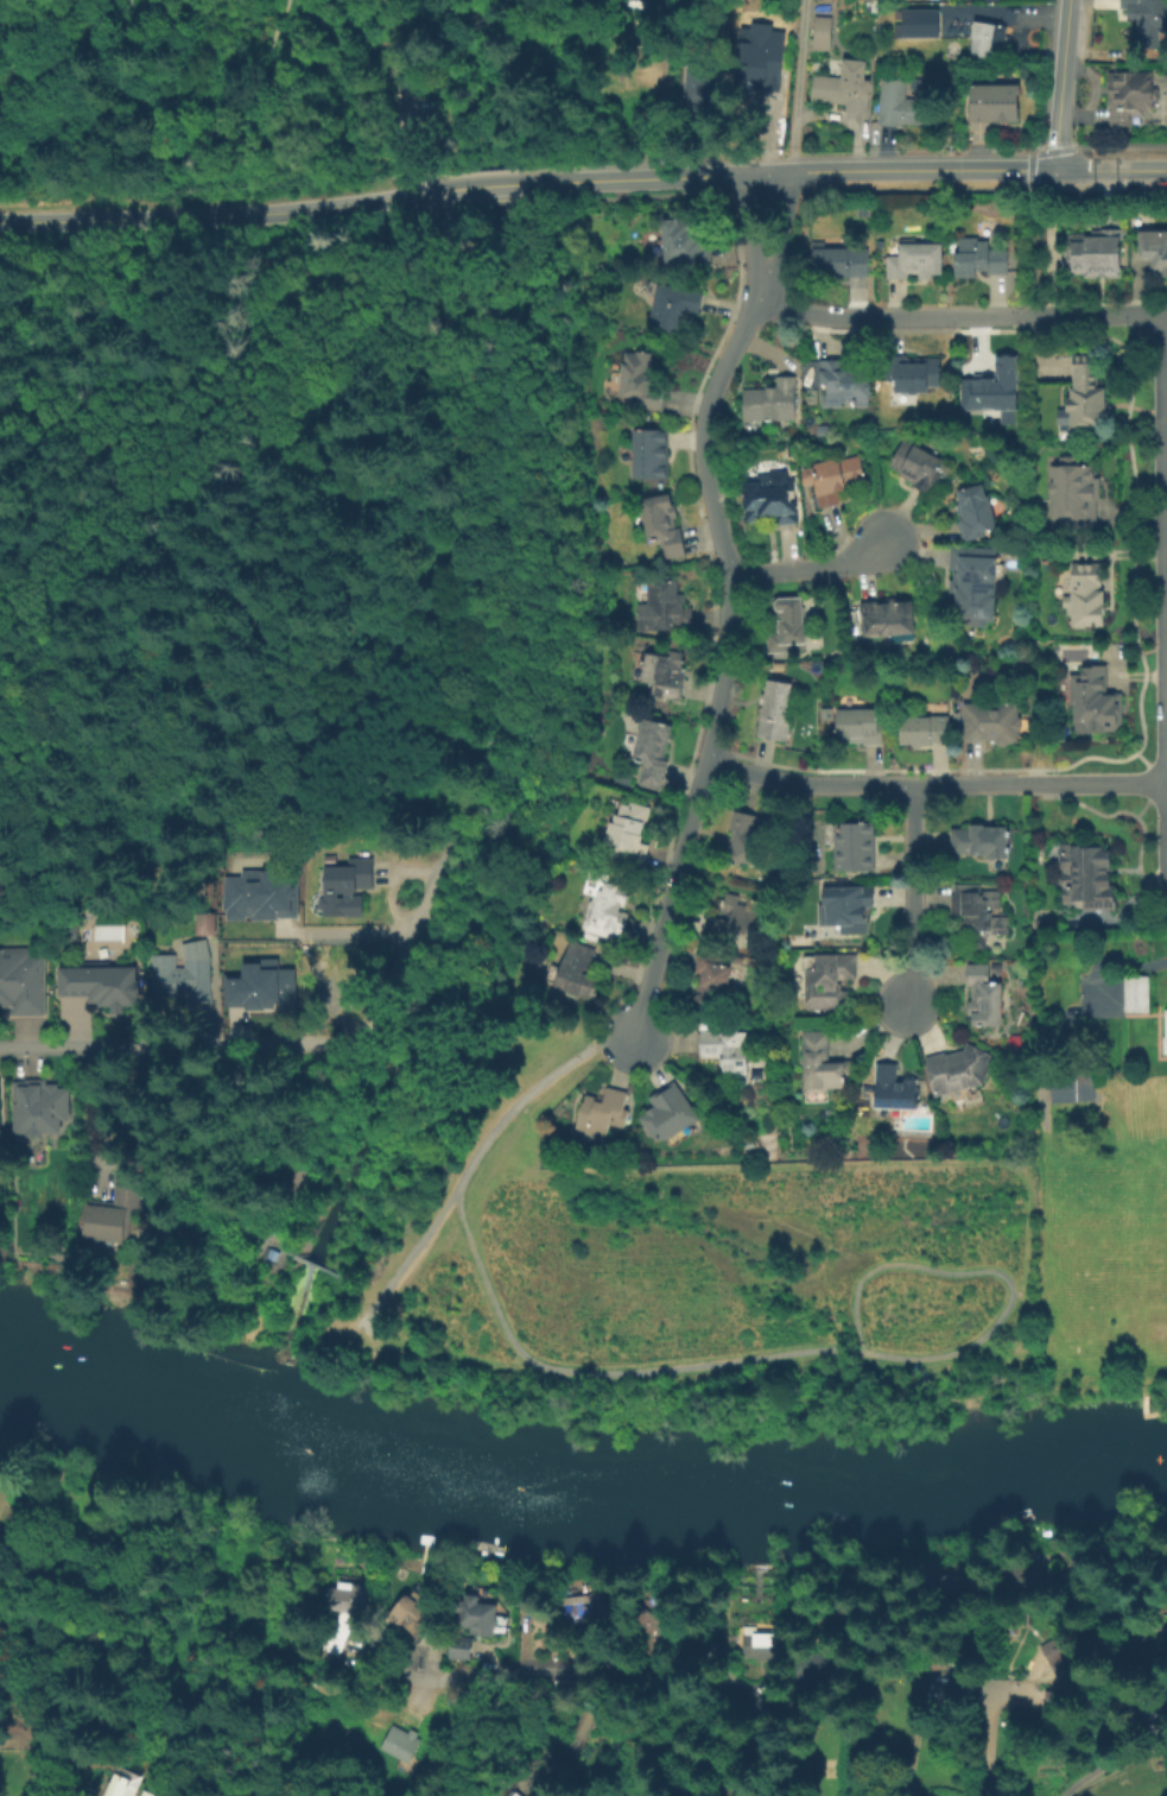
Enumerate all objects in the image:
road: (373, 14)
building: (1148, 14)
road: (393, 24)
building: (921, 24)
building: (823, 34)
building: (990, 39)
building: (760, 76)
road: (1058, 83)
road: (794, 86)
road: (213, 87)
building: (845, 88)
building: (702, 90)
building: (915, 91)
building: (1125, 95)
parking lot: (419, 101)
road: (413, 103)
building: (899, 105)
building: (996, 106)
road: (407, 121)
road: (1110, 167)
road: (811, 170)
road: (507, 183)
road: (436, 190)
road: (419, 194)
building: (862, 211)
road: (205, 216)
road: (748, 223)
road: (780, 224)
building: (985, 233)
building: (686, 242)
building: (1154, 253)
building: (1092, 257)
building: (978, 259)
building: (839, 261)
building: (915, 261)
building: (674, 310)
road: (960, 315)
building: (807, 369)
building: (912, 373)
building: (846, 380)
building: (640, 382)
building: (808, 384)
building: (994, 387)
building: (1089, 397)
building: (772, 401)
building: (651, 454)
building: (919, 468)
building: (832, 479)
building: (1077, 498)
building: (773, 501)
building: (973, 512)
building: (662, 525)
road: (1165, 550)
road: (811, 567)
building: (976, 582)
building: (1087, 600)
building: (665, 608)
building: (887, 616)
building: (852, 618)
building: (789, 625)
road: (259, 640)
road: (725, 652)
building: (666, 672)
building: (1096, 708)
building: (776, 710)
building: (825, 715)
building: (956, 719)
building: (992, 722)
building: (861, 726)
building: (925, 729)
building: (652, 753)
park: (558, 773)
road: (477, 777)
building: (622, 778)
road: (935, 785)
building: (628, 835)
building: (1025, 835)
building: (744, 840)
building: (982, 841)
building: (854, 846)
building: (1089, 881)
building: (1, 886)
building: (344, 888)
building: (256, 896)
road: (912, 899)
building: (610, 909)
building: (855, 910)
building: (978, 912)
building: (734, 921)
building: (201, 923)
road: (341, 934)
building: (997, 968)
building: (577, 970)
building: (326, 972)
building: (180, 978)
building: (710, 980)
building: (829, 981)
building: (21, 985)
building: (255, 985)
building: (100, 989)
building: (983, 997)
building: (1137, 998)
building: (1166, 1039)
road: (176, 1045)
building: (725, 1048)
building: (820, 1064)
building: (958, 1069)
building: (1071, 1086)
building: (893, 1088)
road: (525, 1093)
building: (0, 1100)
building: (42, 1112)
building: (603, 1113)
building: (670, 1113)
road: (88, 1114)
building: (112, 1214)
road: (405, 1259)
road: (905, 1264)
pier: (286, 1334)
road: (843, 1351)
road: (941, 1354)
road: (586, 1372)
river: (129, 1385)
river: (275, 1434)
river: (730, 1482)
building: (1021, 1576)
building: (588, 1602)
building: (345, 1613)
building: (411, 1614)
building: (477, 1620)
building: (759, 1644)
building: (1055, 1651)
building: (939, 1665)
road: (634, 1667)
building: (178, 1693)
building: (402, 1741)
road: (988, 1750)
road: (1112, 1764)
building: (120, 1785)
building: (147, 1794)
building: (495, 1795)
building: (516, 1795)

